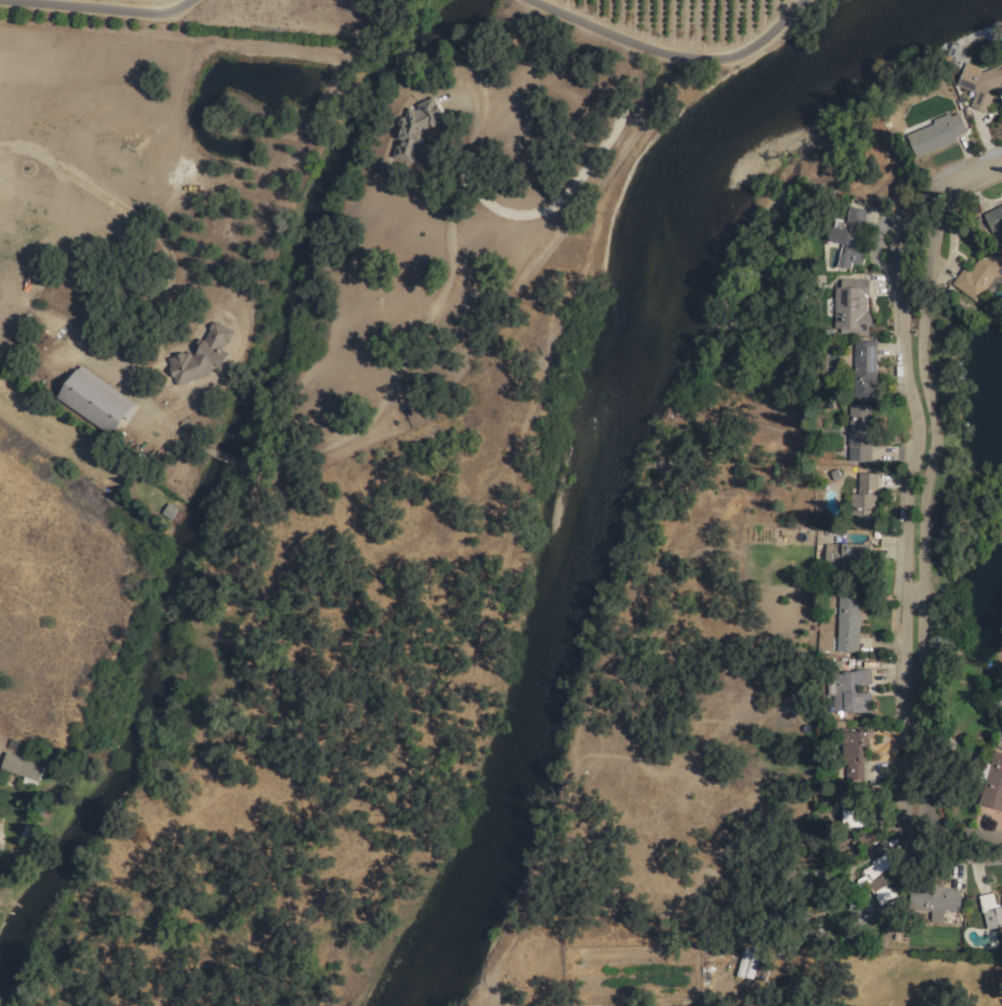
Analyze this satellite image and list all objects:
river: (966, 4)
road: (89, 7)
road: (677, 52)
building: (979, 84)
building: (413, 128)
building: (934, 135)
road: (111, 203)
building: (994, 216)
building: (854, 217)
crop: (260, 223)
building: (842, 248)
building: (980, 275)
building: (848, 307)
road: (937, 351)
building: (198, 355)
building: (863, 369)
building: (92, 400)
building: (857, 432)
river: (622, 456)
building: (843, 555)
building: (846, 625)
building: (848, 692)
road: (932, 741)
building: (1001, 743)
building: (20, 767)
building: (992, 784)
building: (853, 814)
building: (874, 881)
building: (1001, 893)
building: (933, 901)
building: (989, 912)
road: (495, 996)

